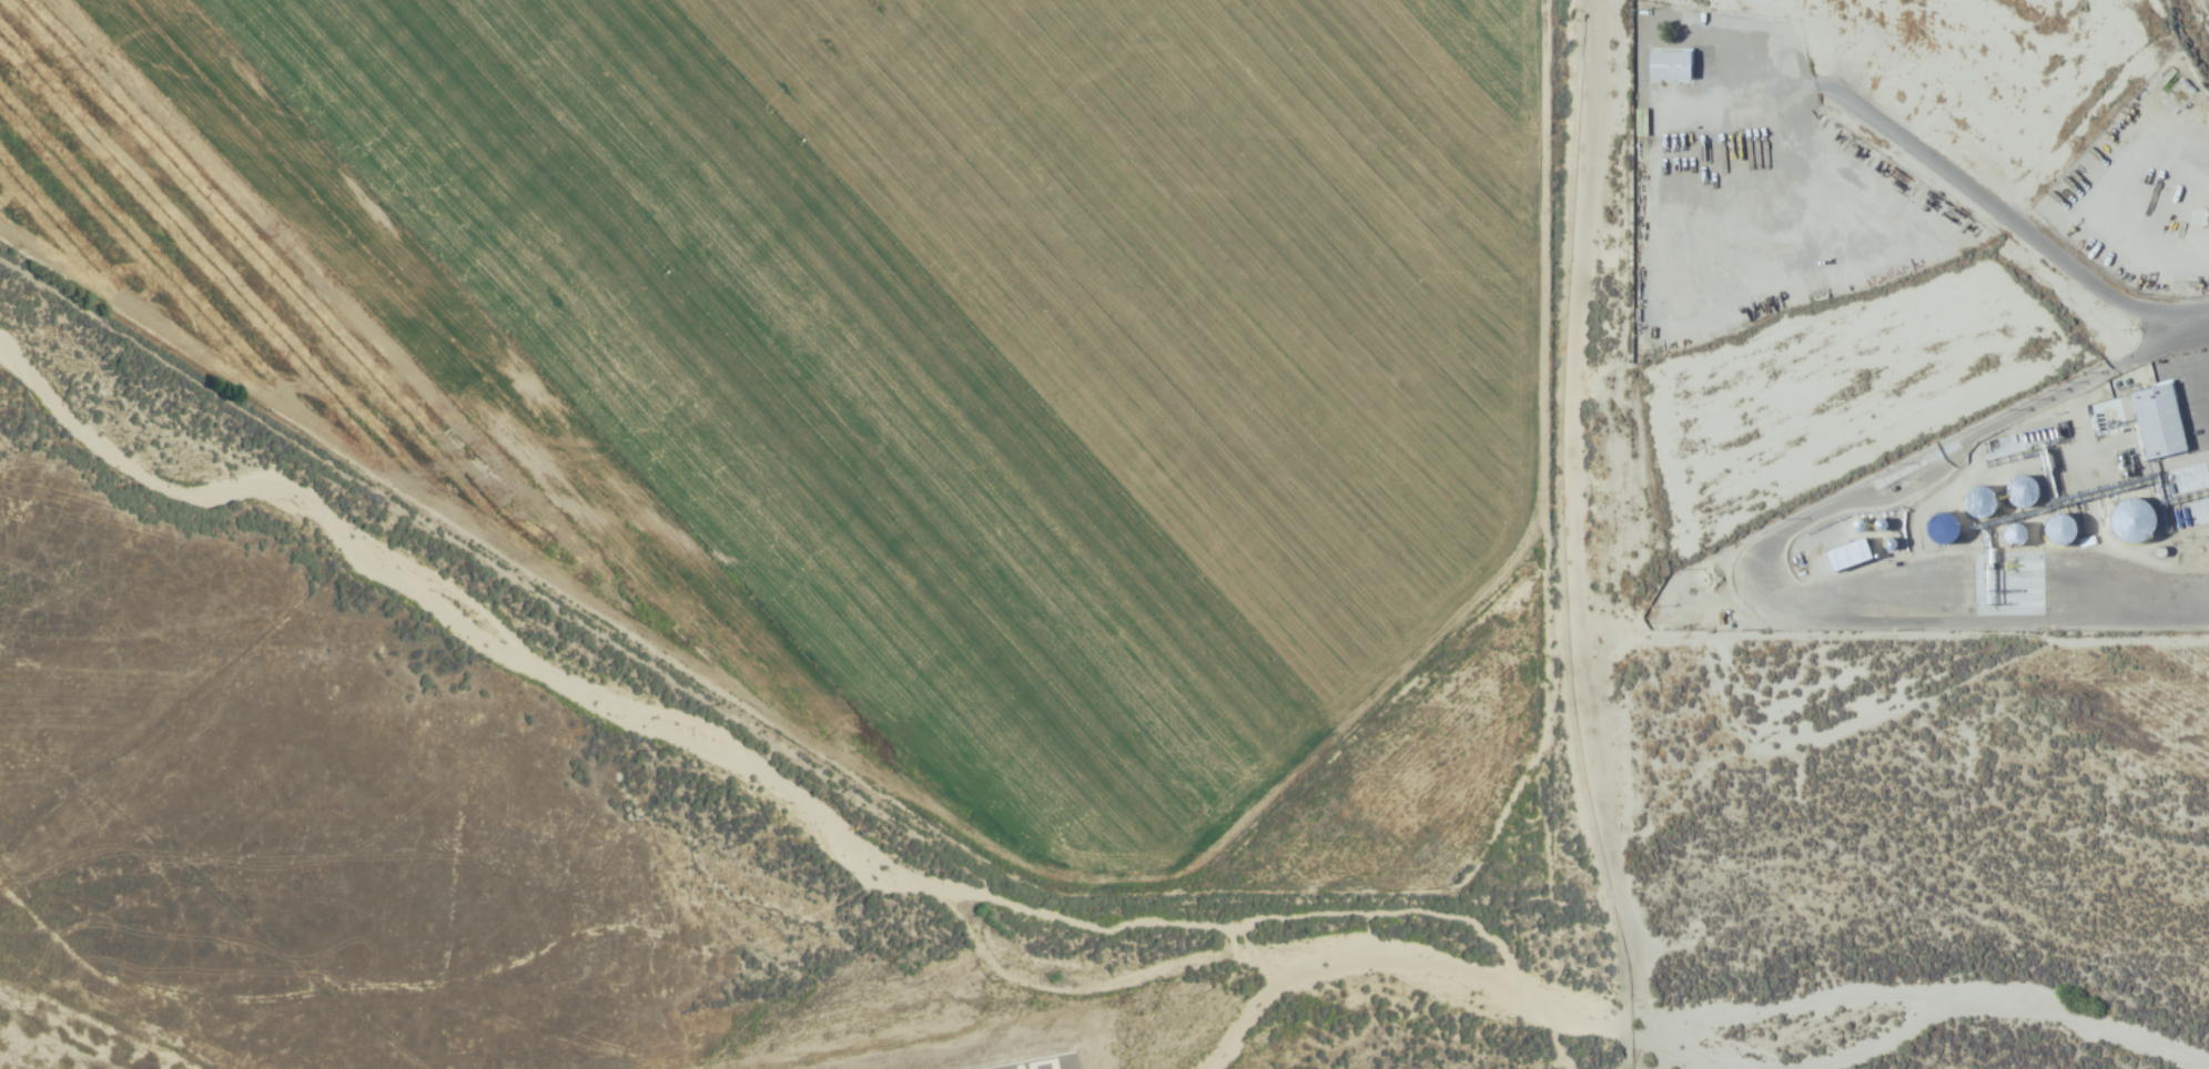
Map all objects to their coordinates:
road: (2009, 225)
crop: (1001, 340)
airport: (415, 898)

